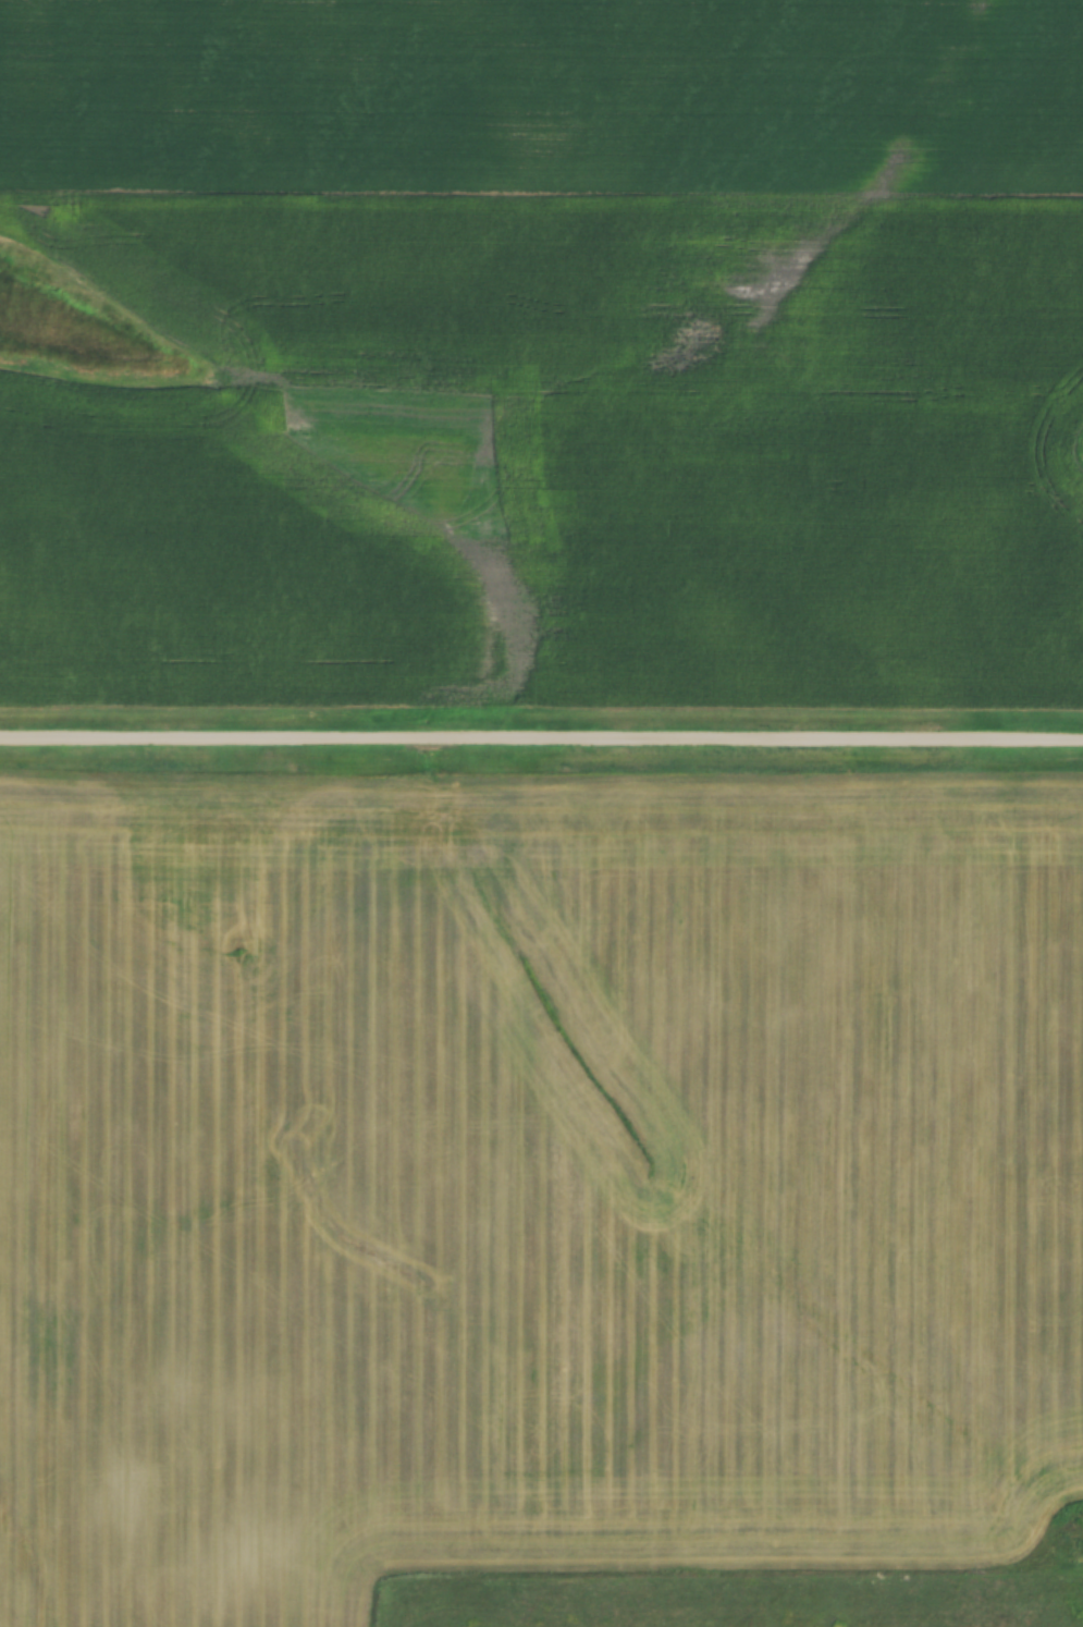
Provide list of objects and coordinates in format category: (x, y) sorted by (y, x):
road: (541, 735)

